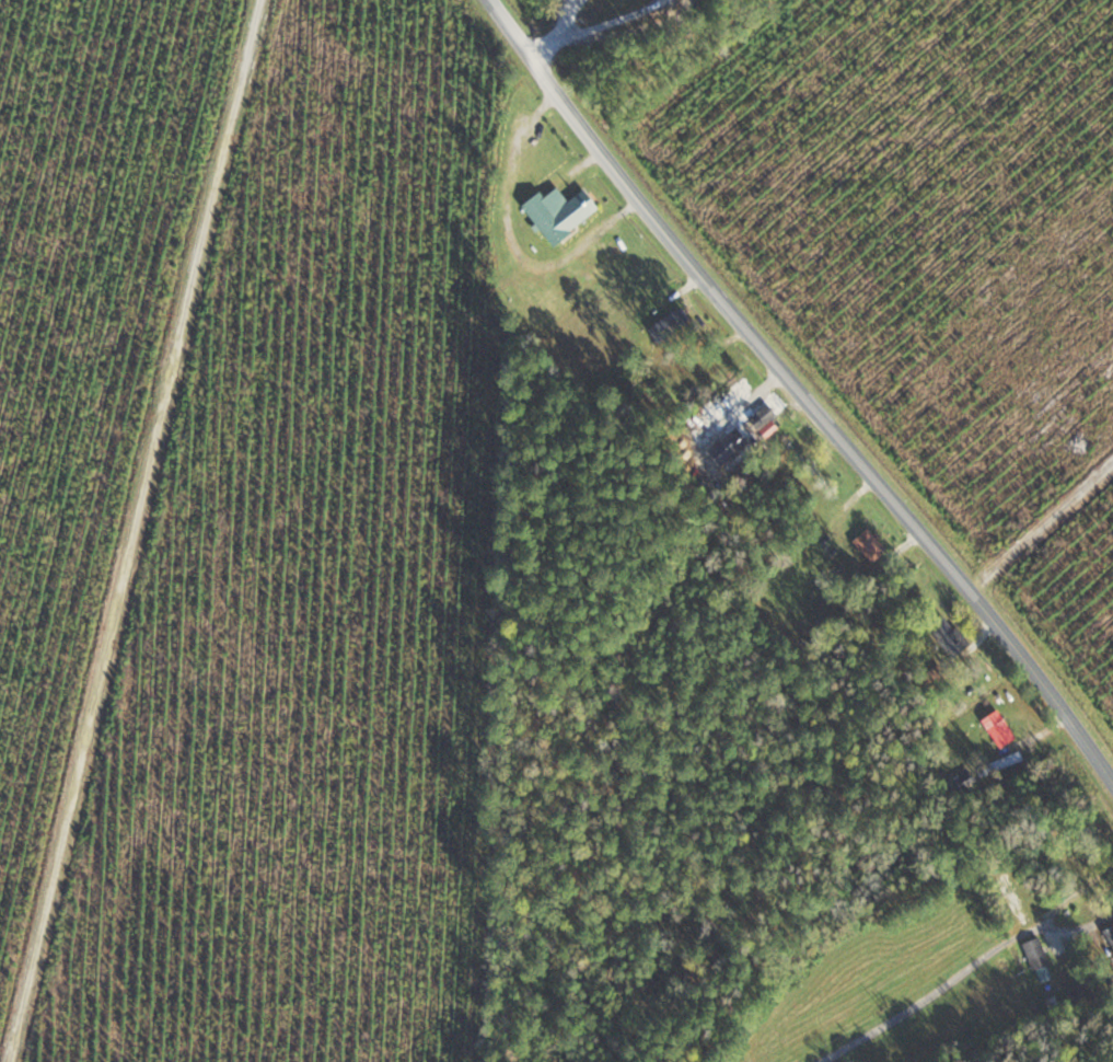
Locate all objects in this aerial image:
building: (558, 213)
road: (512, 234)
building: (662, 326)
road: (805, 394)
building: (762, 417)
road: (146, 531)
building: (870, 546)
building: (948, 635)
building: (994, 730)
building: (960, 782)
building: (1089, 823)
road: (1078, 891)
building: (1109, 934)
building: (1035, 954)
road: (961, 971)

